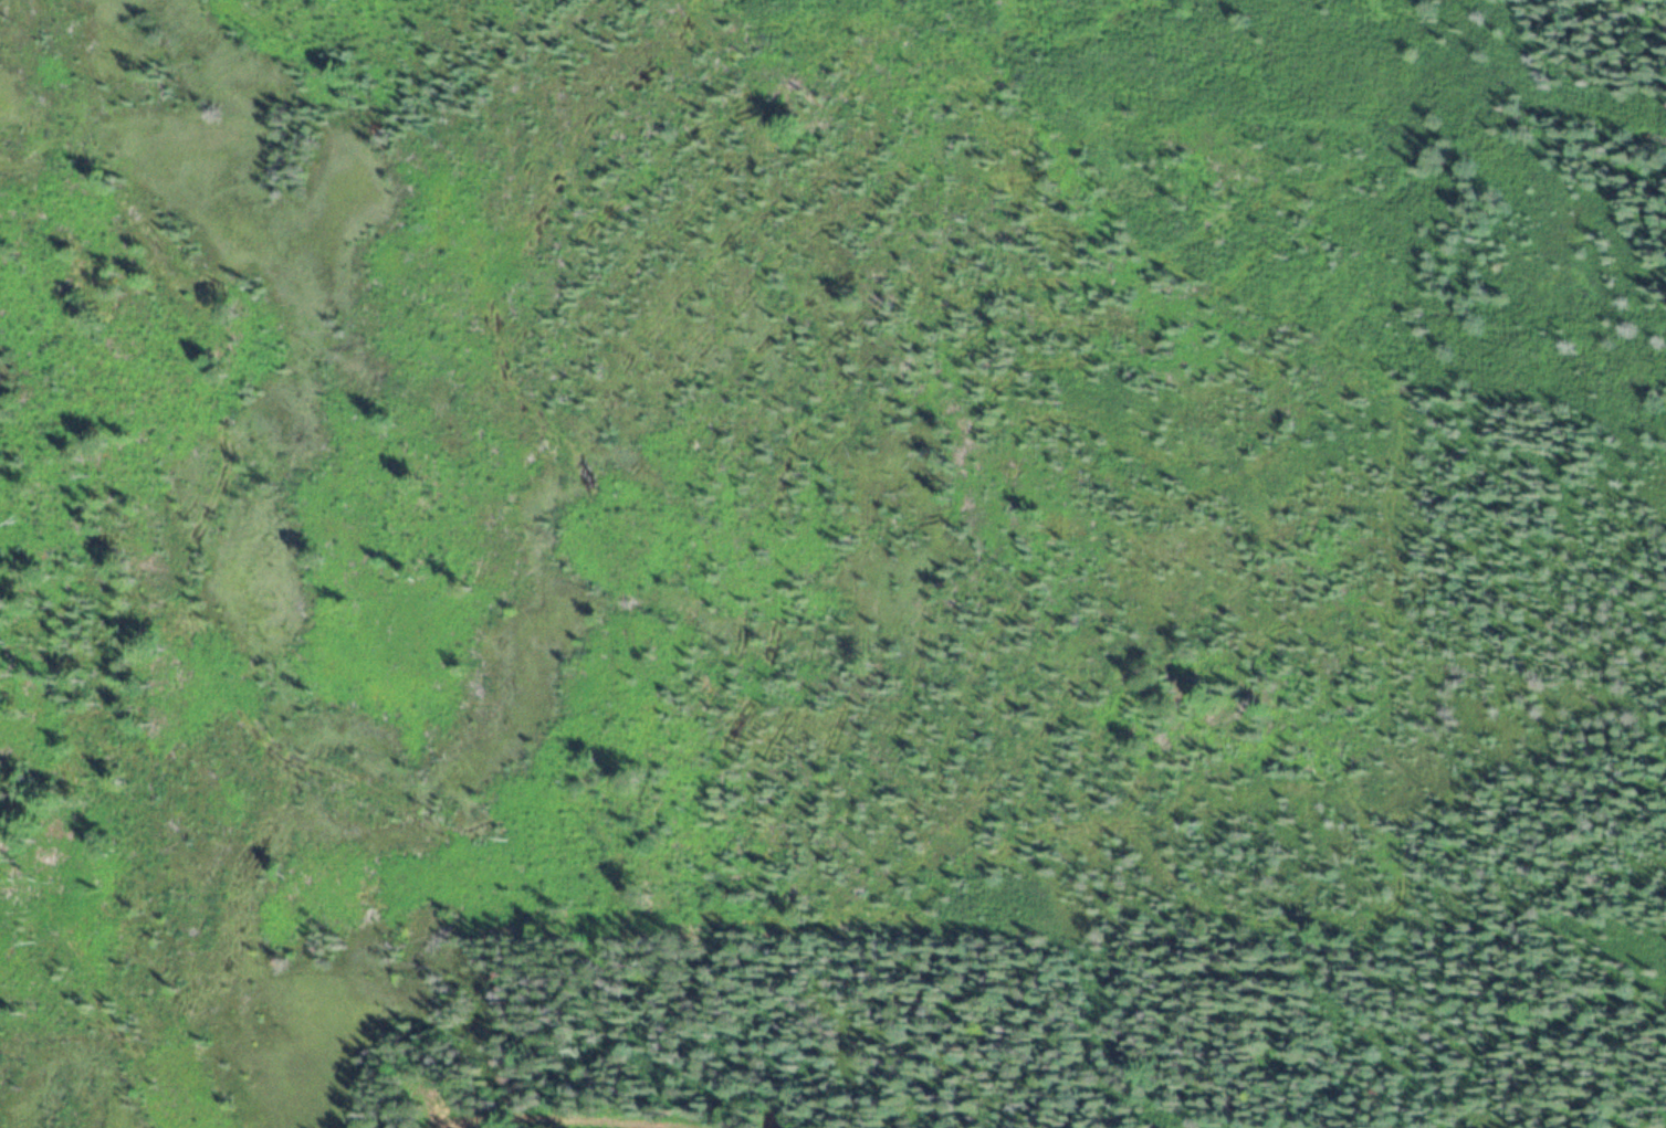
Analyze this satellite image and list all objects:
road: (587, 1117)

